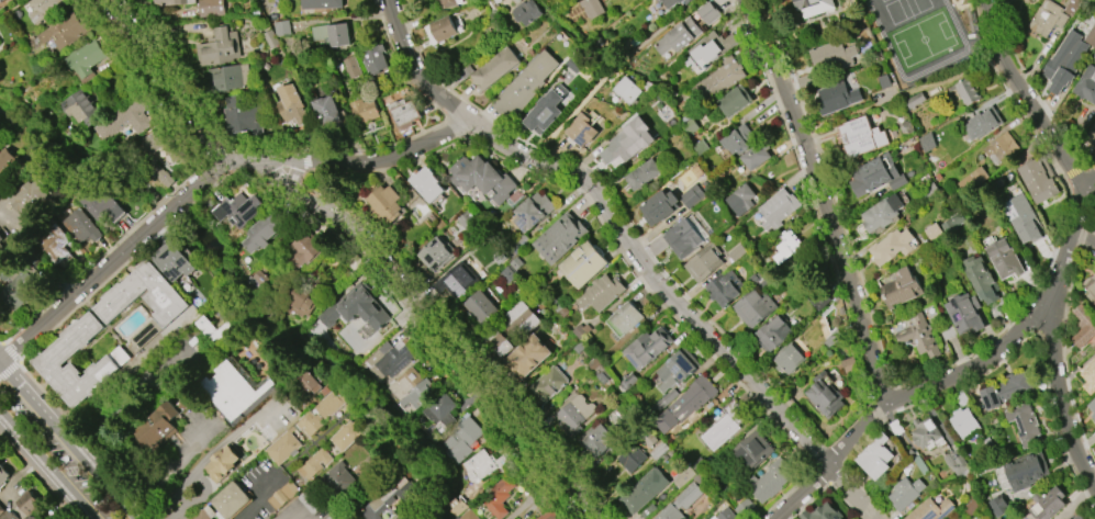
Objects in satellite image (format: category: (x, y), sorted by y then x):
building: (0, 0)
building: (1036, 0)
building: (171, 2)
building: (448, 2)
building: (672, 2)
building: (324, 4)
building: (814, 7)
building: (44, 8)
building: (210, 8)
building: (592, 8)
building: (526, 11)
building: (707, 12)
building: (1047, 19)
building: (281, 29)
building: (442, 30)
building: (64, 31)
building: (333, 34)
building: (678, 36)
building: (217, 47)
building: (834, 55)
building: (83, 57)
building: (373, 59)
building: (1065, 60)
building: (574, 64)
building: (351, 68)
building: (496, 68)
road: (611, 70)
building: (467, 71)
building: (228, 78)
building: (720, 79)
building: (1086, 84)
building: (526, 86)
building: (628, 90)
building: (966, 91)
building: (837, 97)
road: (1026, 98)
building: (914, 101)
building: (731, 102)
building: (294, 105)
building: (78, 109)
building: (364, 110)
building: (328, 111)
building: (403, 112)
building: (546, 113)
building: (244, 114)
building: (123, 119)
building: (981, 123)
building: (582, 131)
building: (1091, 134)
building: (860, 136)
building: (738, 139)
building: (627, 142)
building: (927, 143)
building: (156, 144)
building: (999, 148)
building: (756, 156)
road: (205, 174)
road: (293, 174)
building: (643, 174)
building: (160, 177)
building: (874, 177)
building: (482, 178)
building: (973, 180)
building: (1037, 181)
building: (427, 184)
road: (175, 188)
building: (692, 193)
road: (822, 198)
building: (97, 200)
building: (740, 200)
building: (384, 203)
building: (658, 206)
building: (776, 208)
building: (238, 210)
building: (532, 212)
building: (882, 214)
building: (1021, 217)
building: (467, 221)
building: (82, 227)
building: (264, 230)
building: (0, 237)
building: (559, 238)
building: (681, 238)
road: (1084, 238)
building: (0, 244)
road: (367, 246)
road: (632, 246)
building: (892, 246)
building: (55, 247)
building: (784, 247)
building: (432, 253)
building: (301, 255)
building: (1004, 259)
building: (175, 261)
building: (703, 262)
building: (581, 264)
building: (981, 279)
building: (455, 281)
building: (16, 285)
building: (1091, 287)
building: (900, 289)
building: (724, 291)
building: (600, 293)
building: (124, 294)
building: (300, 304)
building: (353, 307)
building: (481, 307)
building: (752, 308)
building: (964, 314)
building: (522, 319)
building: (623, 319)
road: (1053, 321)
building: (1084, 326)
building: (580, 330)
building: (771, 334)
building: (919, 337)
building: (502, 347)
building: (646, 348)
building: (527, 357)
building: (786, 359)
building: (51, 360)
building: (388, 360)
building: (1090, 369)
building: (673, 371)
road: (935, 371)
building: (627, 381)
building: (403, 382)
building: (310, 383)
building: (548, 384)
building: (234, 390)
building: (1006, 390)
building: (417, 395)
road: (902, 396)
building: (668, 397)
building: (825, 397)
building: (692, 398)
building: (961, 398)
building: (332, 403)
building: (1092, 407)
building: (442, 409)
building: (573, 416)
building: (963, 422)
building: (310, 424)
building: (1025, 425)
building: (159, 426)
building: (724, 426)
road: (233, 432)
building: (926, 433)
building: (346, 435)
building: (646, 438)
road: (70, 439)
building: (462, 440)
building: (595, 441)
building: (284, 447)
building: (660, 451)
building: (750, 452)
building: (875, 456)
building: (632, 458)
building: (956, 462)
building: (225, 463)
building: (313, 463)
road: (167, 464)
building: (483, 465)
building: (920, 465)
road: (45, 467)
building: (1023, 473)
building: (3, 474)
road: (188, 474)
building: (337, 479)
building: (767, 481)
building: (645, 490)
building: (905, 493)
building: (282, 495)
road: (539, 496)
building: (499, 497)
road: (261, 498)
building: (233, 500)
building: (386, 500)
building: (1047, 504)
building: (972, 505)
building: (20, 507)
building: (0, 509)
road: (175, 509)
building: (930, 509)
road: (284, 510)
building: (205, 514)
building: (670, 514)
building: (820, 514)
building: (469, 515)
building: (549, 515)
building: (726, 515)
building: (32, 517)
building: (984, 517)
building: (1077, 517)
building: (530, 518)

